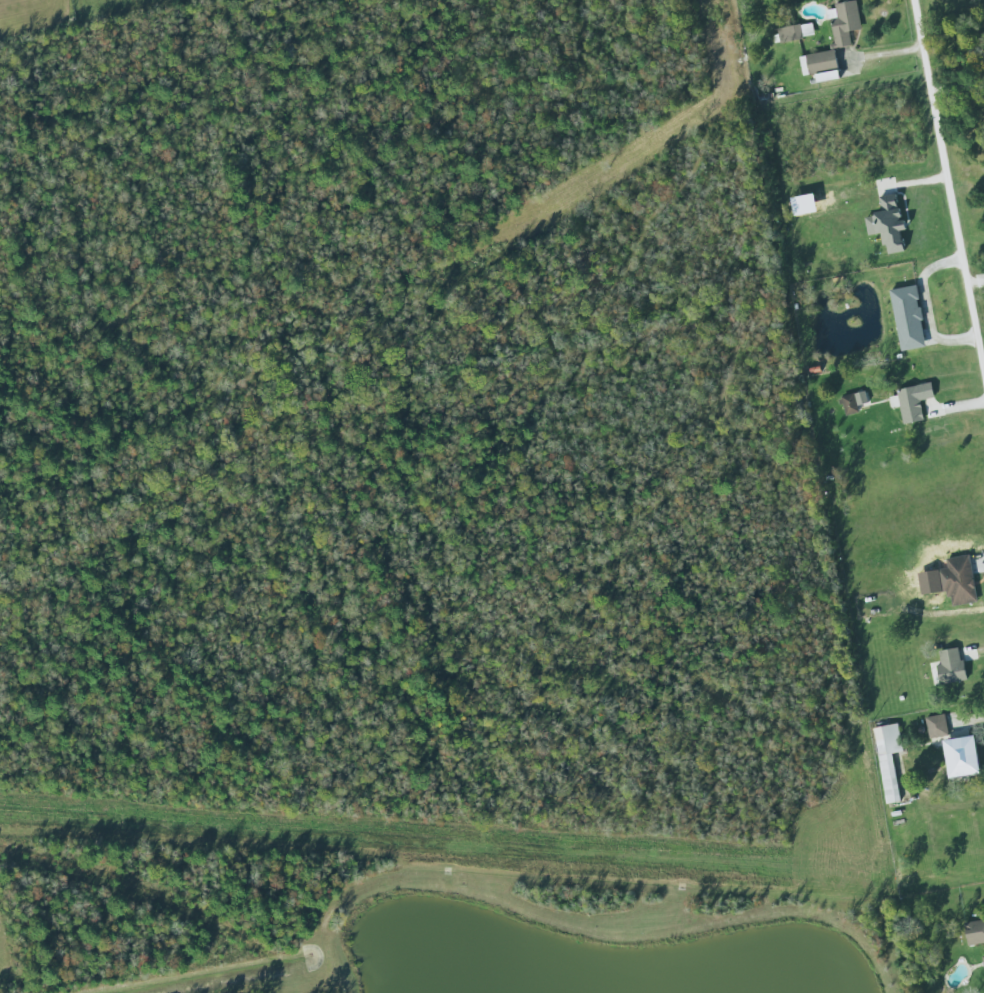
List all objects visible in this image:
building: (843, 23)
building: (795, 32)
building: (819, 66)
road: (949, 187)
building: (803, 205)
building: (887, 225)
road: (977, 288)
road: (925, 306)
building: (907, 318)
building: (853, 402)
building: (913, 402)
building: (957, 580)
building: (948, 668)
road: (966, 719)
building: (935, 726)
building: (961, 757)
building: (887, 759)
building: (974, 933)
building: (983, 962)

